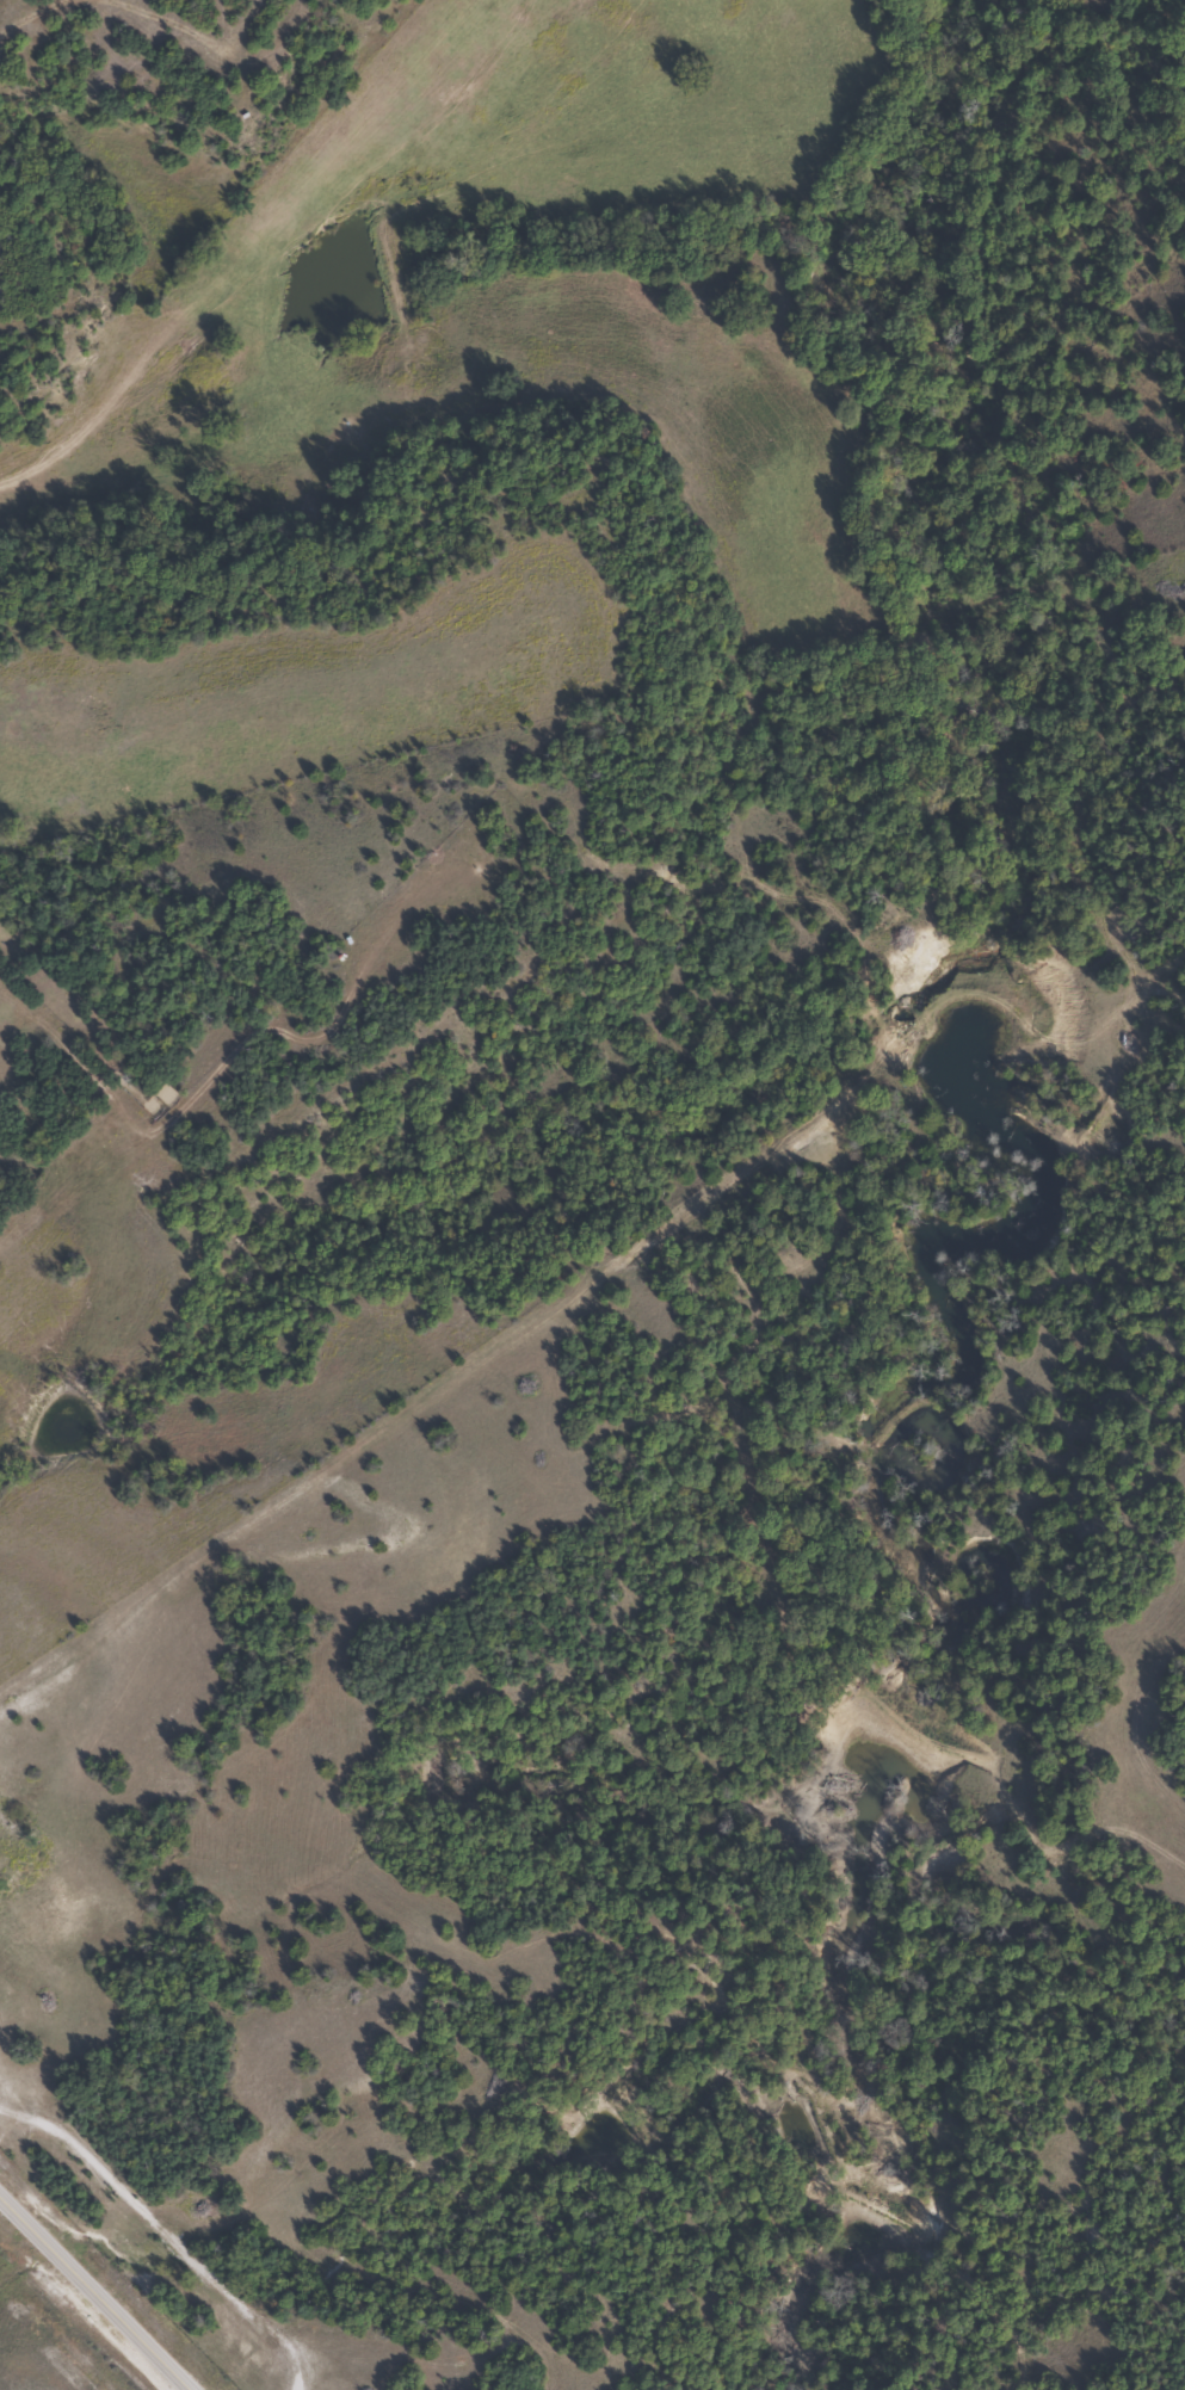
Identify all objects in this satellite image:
road: (94, 2295)

